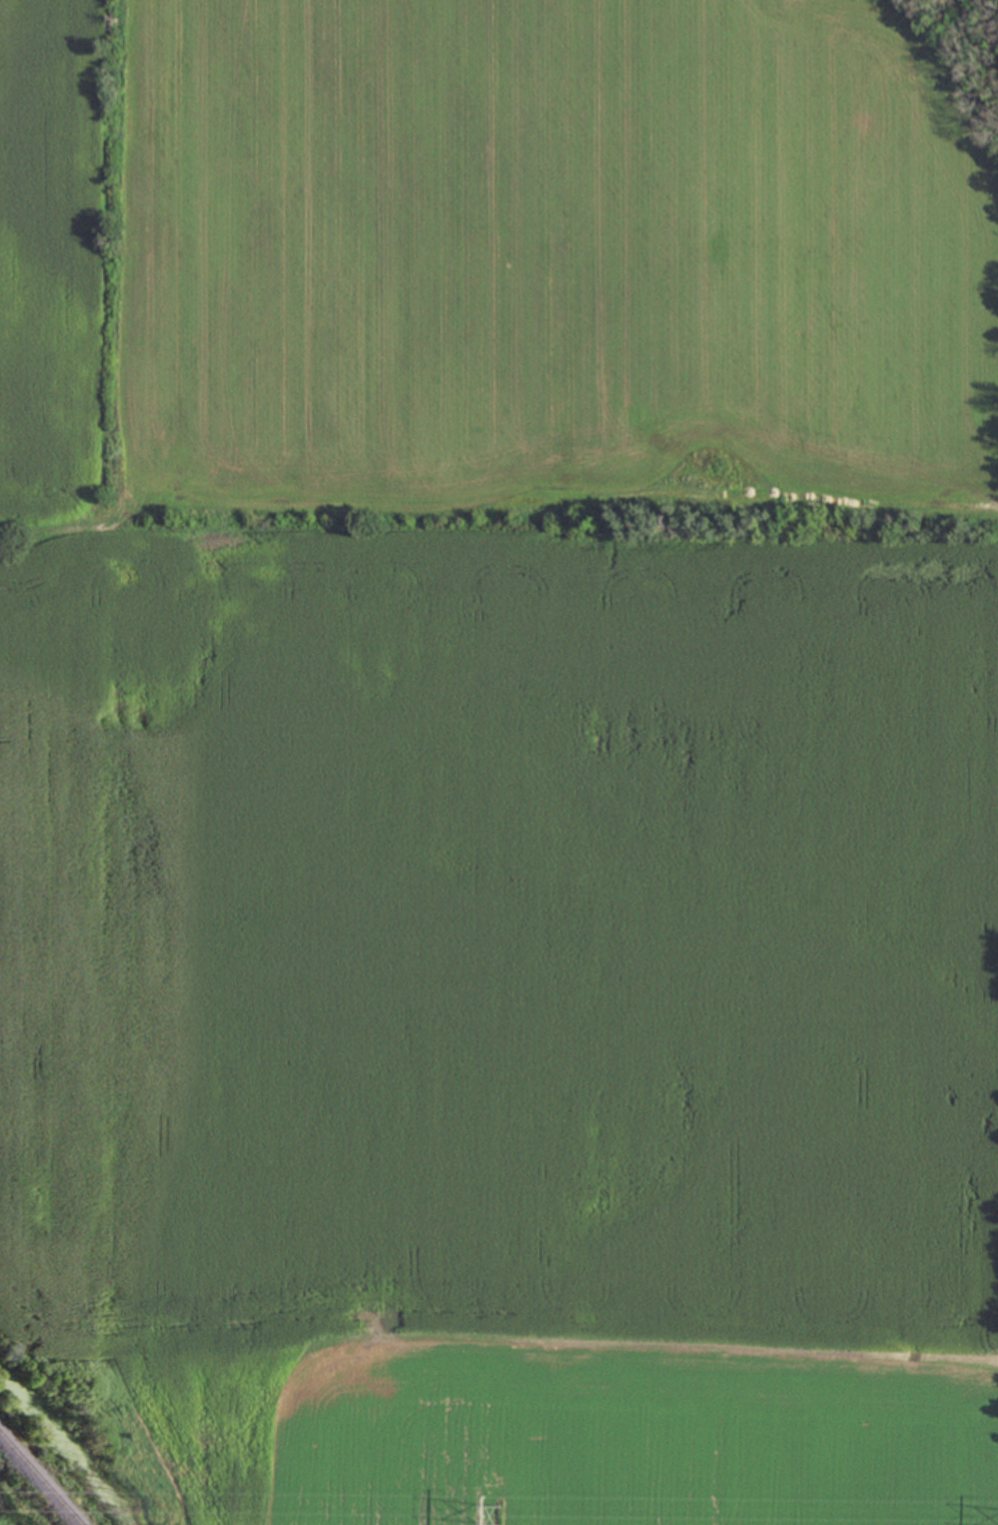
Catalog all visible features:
railway: (38, 1480)
power tower: (495, 1517)

